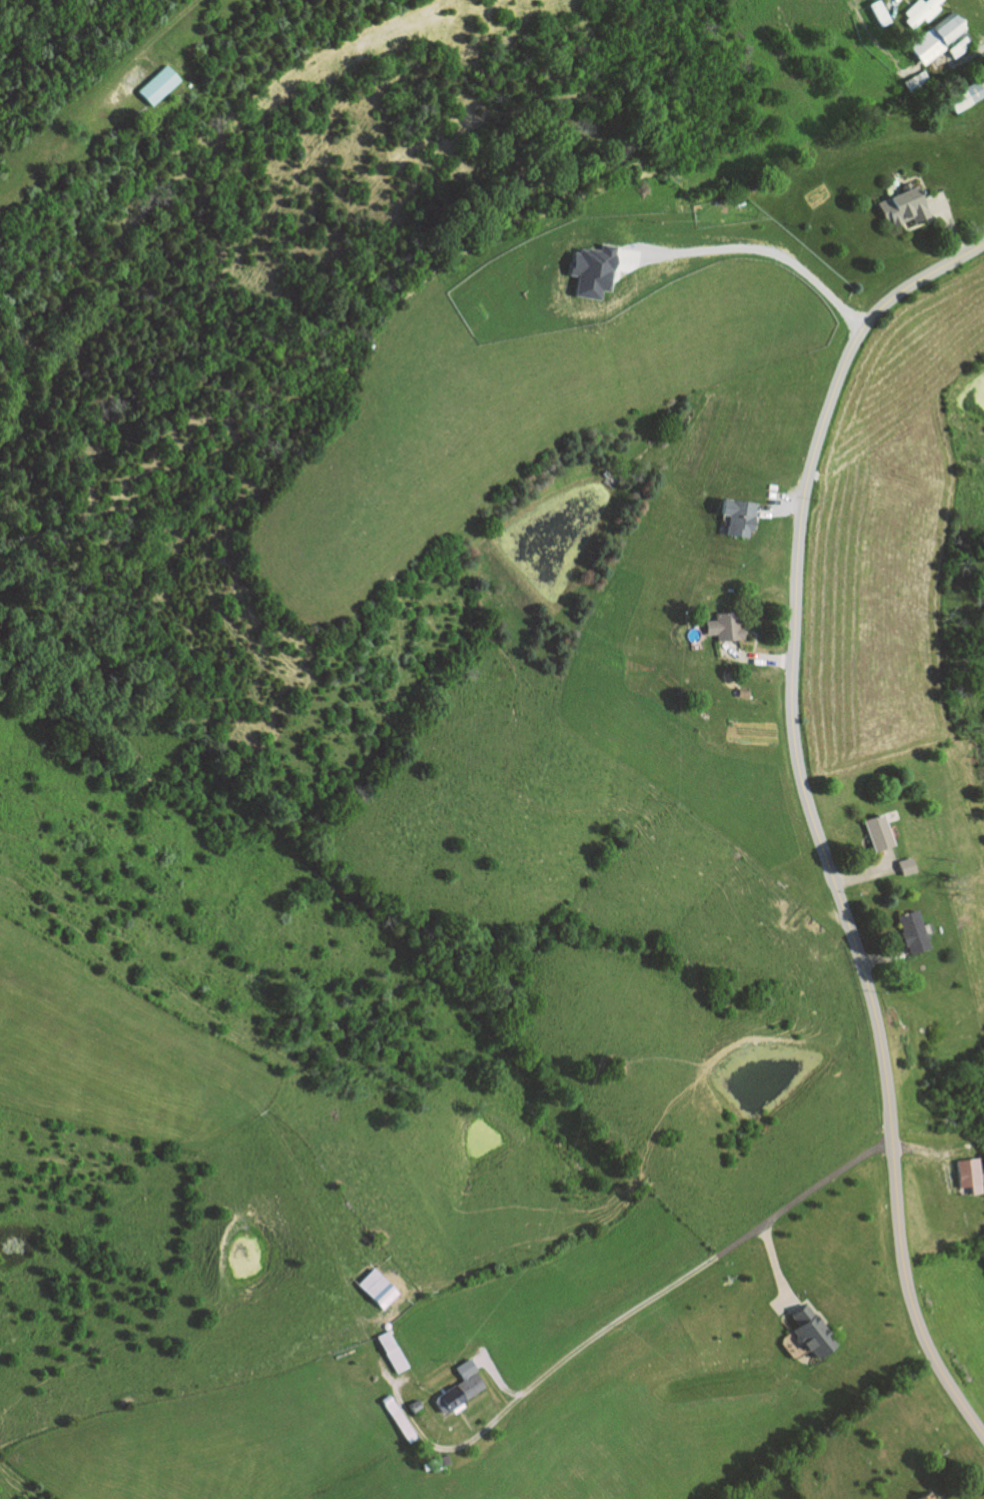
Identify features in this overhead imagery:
road: (891, 4)
building: (920, 11)
building: (877, 12)
road: (157, 32)
building: (939, 38)
road: (973, 53)
building: (919, 84)
building: (158, 85)
road: (982, 87)
building: (964, 96)
building: (901, 207)
road: (945, 223)
road: (752, 247)
building: (593, 270)
road: (777, 503)
building: (735, 517)
building: (722, 627)
road: (755, 656)
road: (811, 814)
building: (874, 831)
road: (886, 857)
building: (902, 865)
building: (908, 866)
road: (865, 873)
building: (908, 931)
road: (883, 957)
road: (946, 1170)
building: (965, 1175)
building: (983, 1227)
road: (774, 1267)
building: (373, 1289)
road: (648, 1299)
road: (783, 1304)
building: (807, 1332)
building: (388, 1352)
building: (455, 1393)
building: (414, 1406)
building: (394, 1418)
building: (435, 1463)
building: (923, 1495)
building: (930, 1496)

